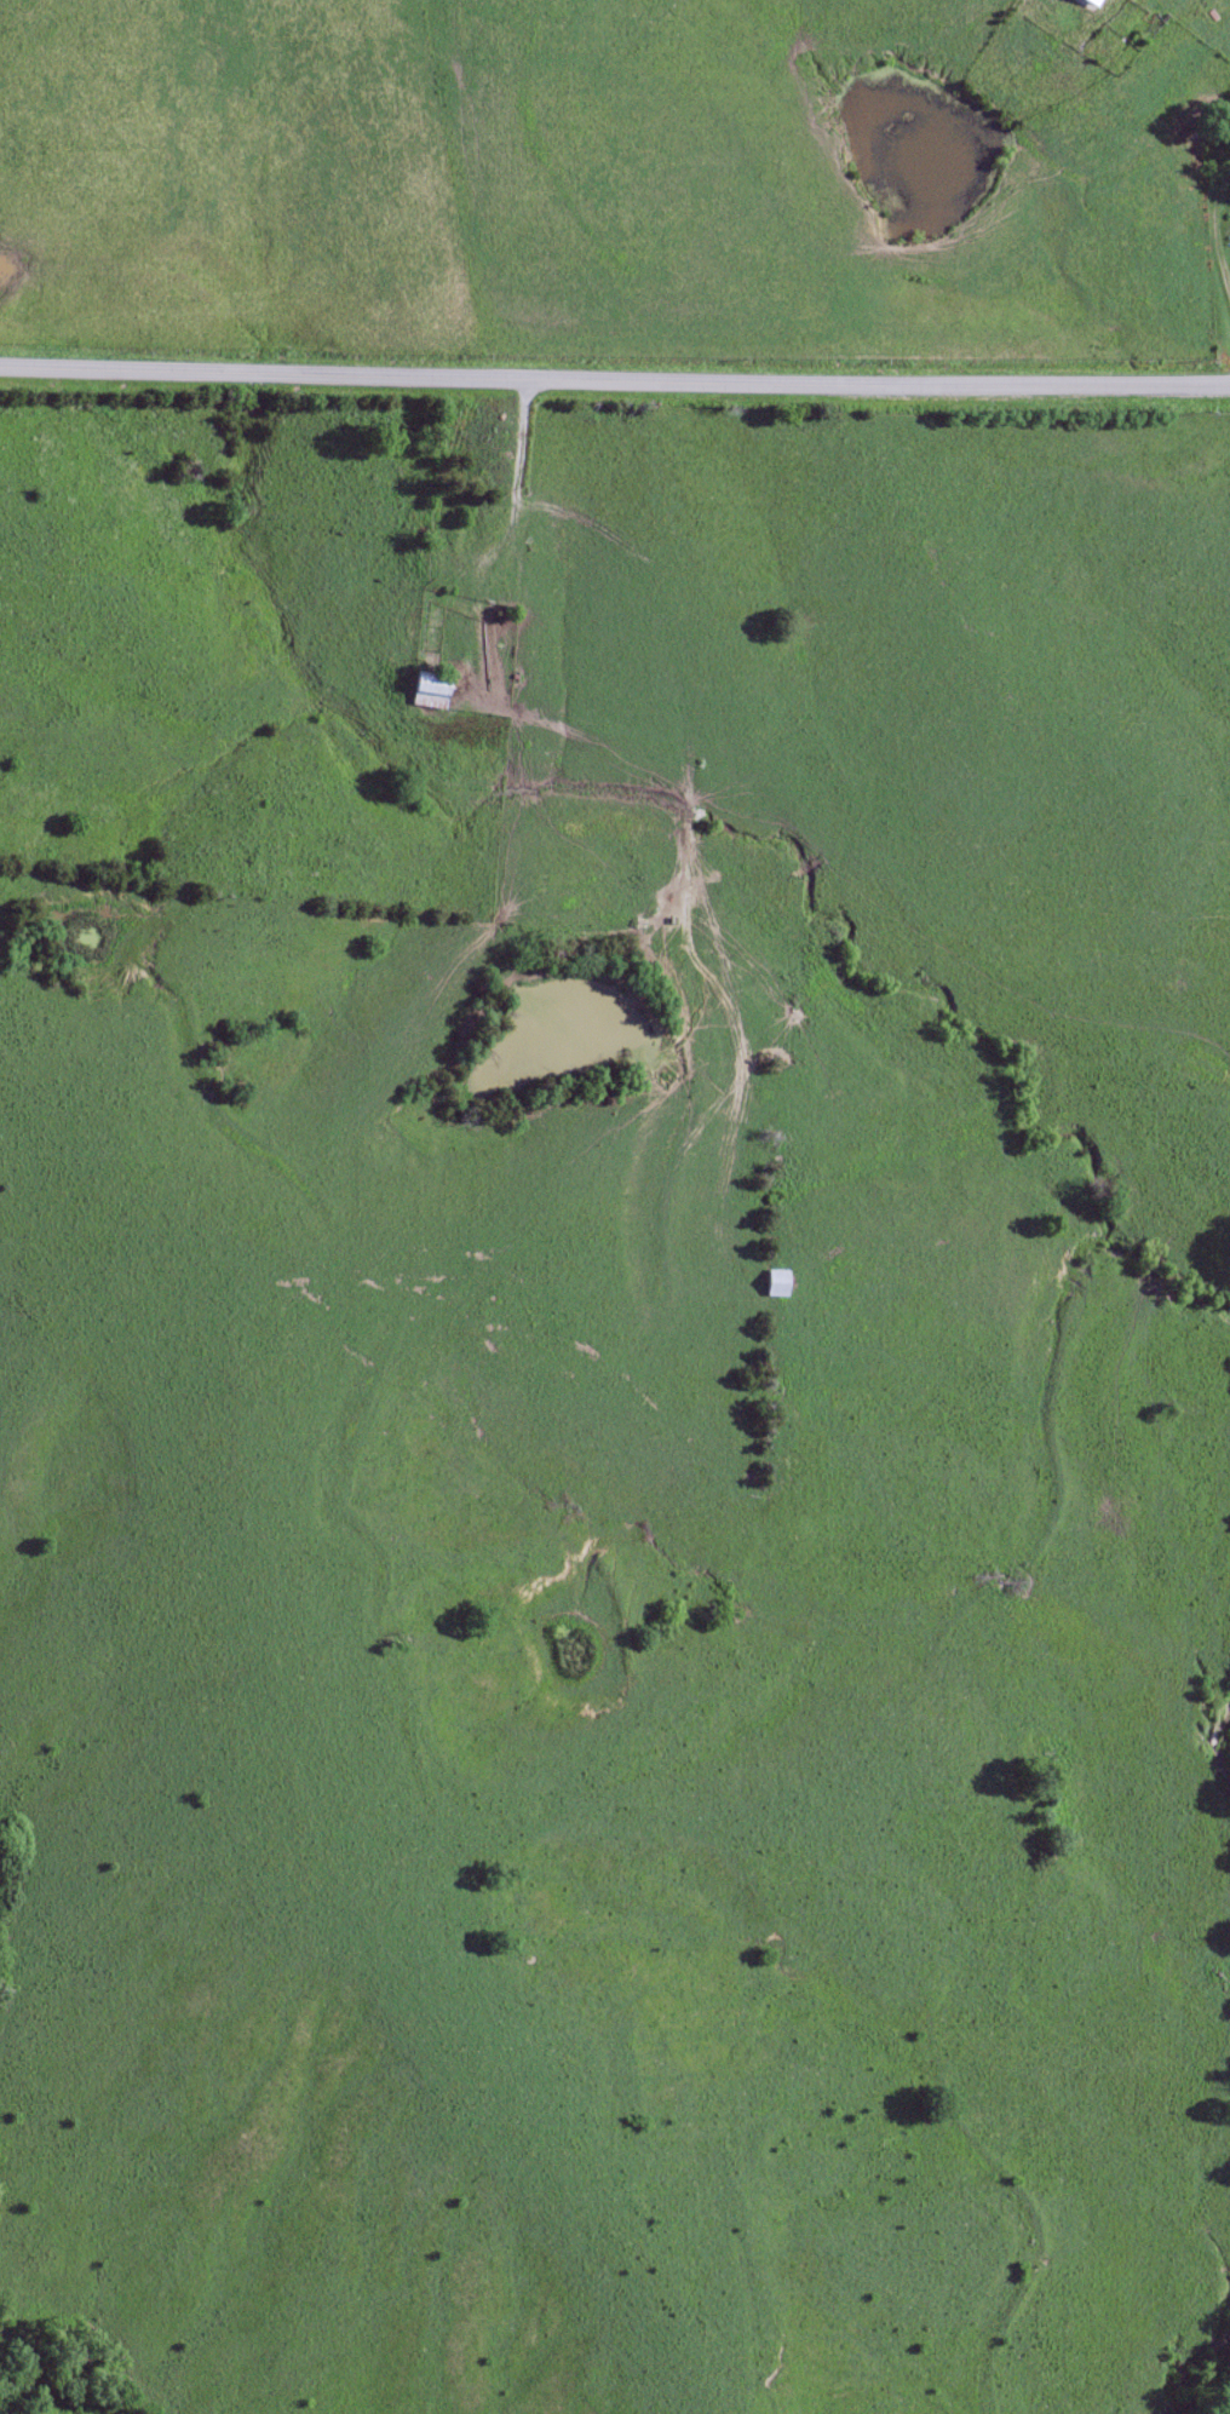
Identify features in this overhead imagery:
building: (1092, 2)
road: (1213, 236)
road: (614, 385)
road: (505, 529)
building: (429, 690)
building: (777, 1282)

